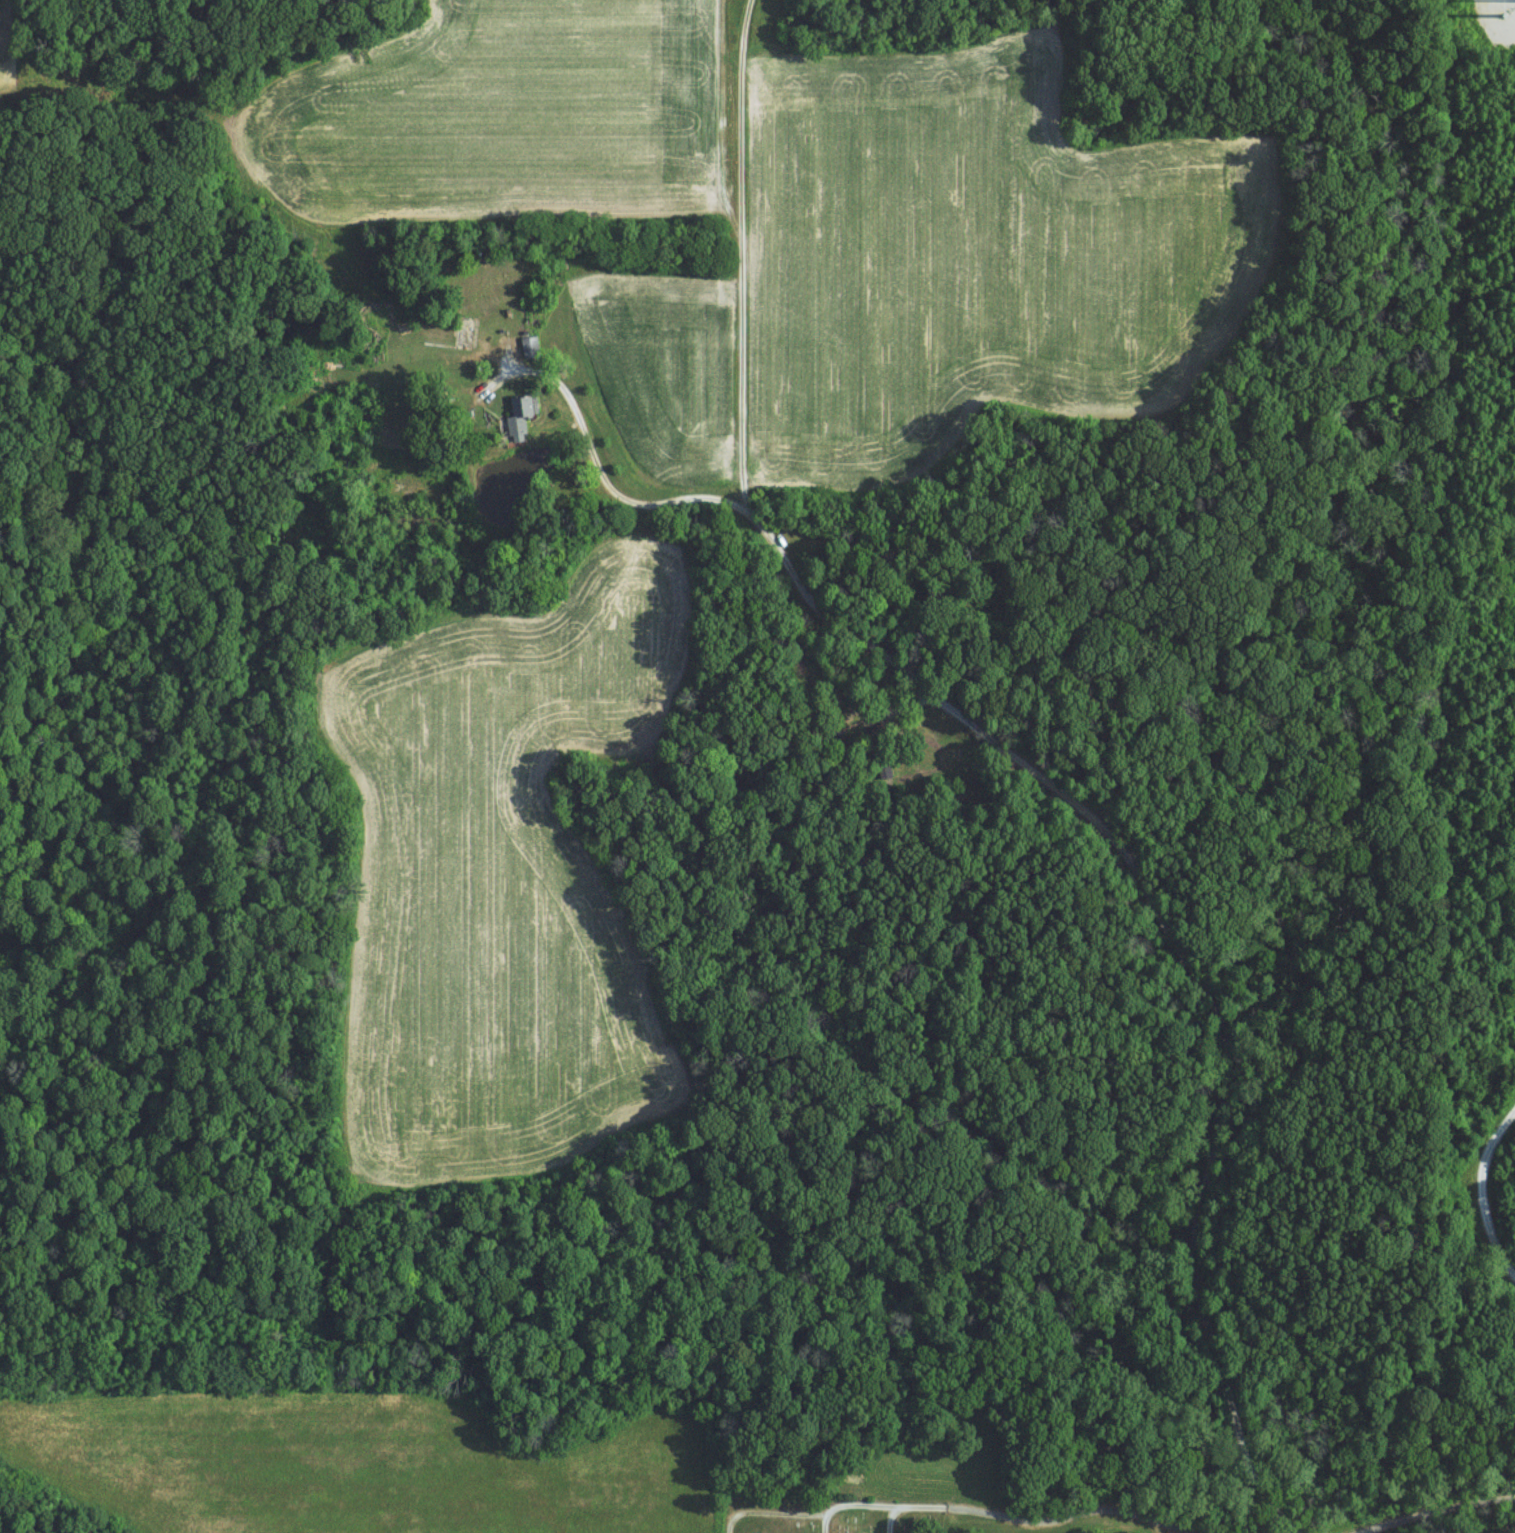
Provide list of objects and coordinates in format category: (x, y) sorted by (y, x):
road: (740, 255)
building: (523, 416)
road: (1121, 847)
road: (1480, 1191)
road: (868, 1524)
road: (917, 1528)
road: (1011, 1528)

